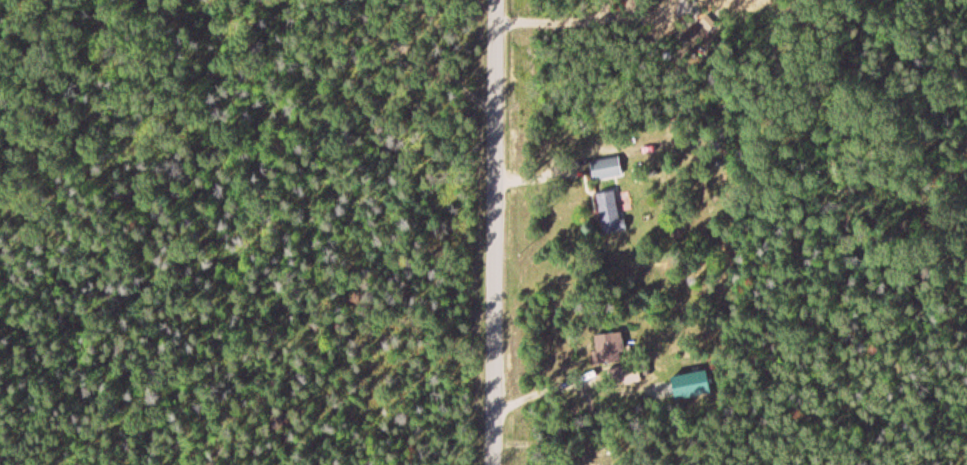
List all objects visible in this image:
building: (604, 170)
building: (608, 213)
road: (495, 232)
building: (608, 346)
building: (624, 375)

